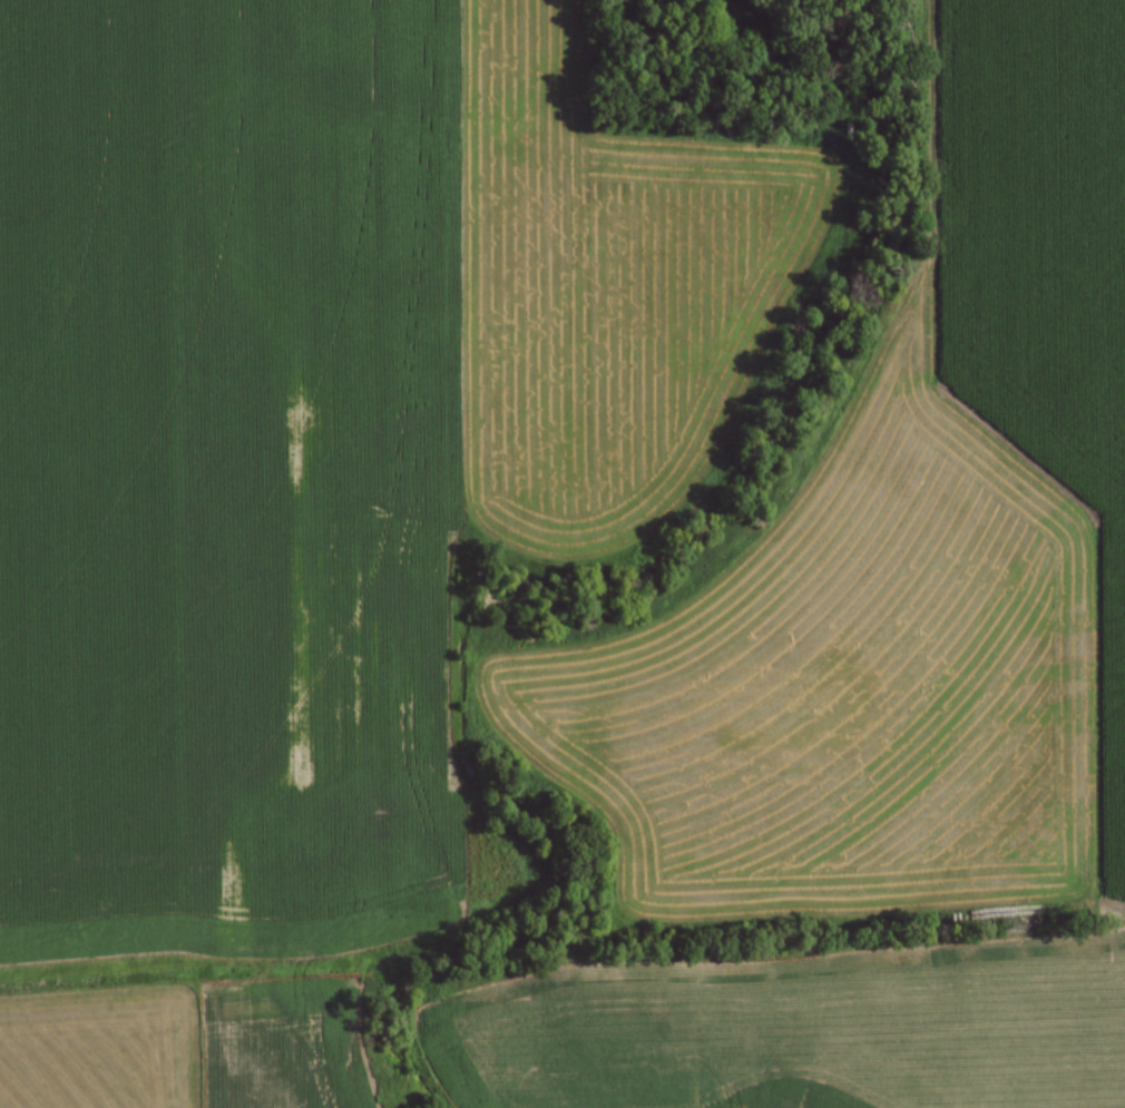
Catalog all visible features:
crop: (315, 424)
crop: (908, 566)
crop: (795, 1027)
crop: (178, 1046)

